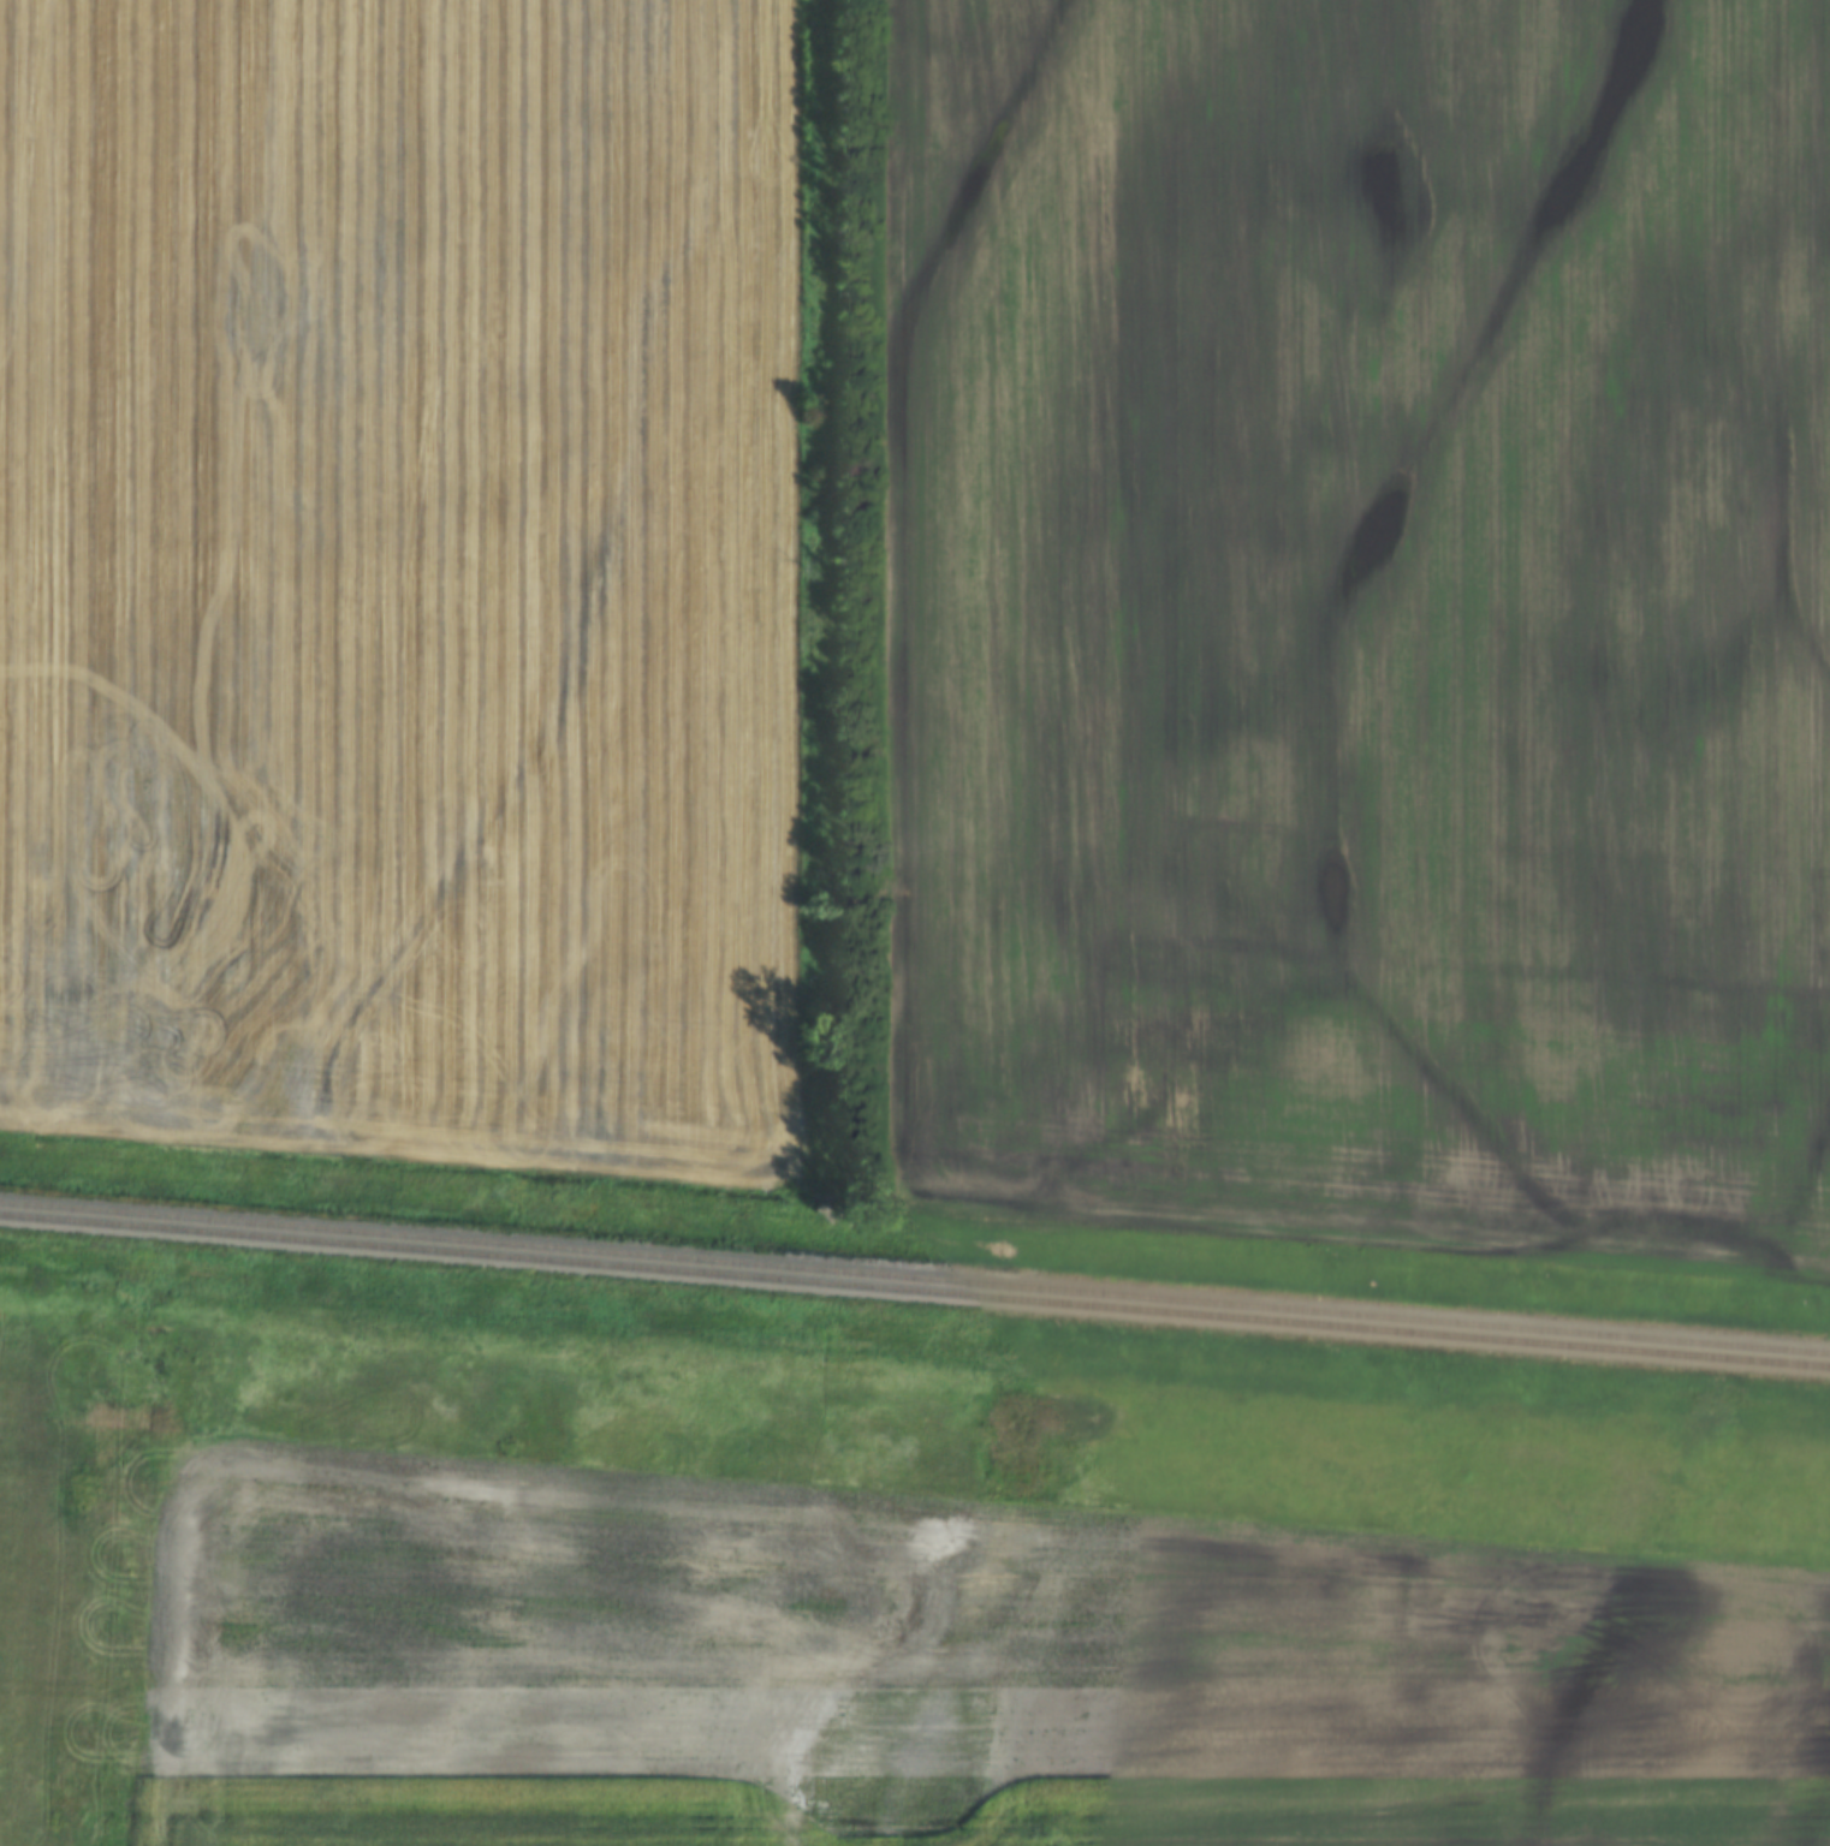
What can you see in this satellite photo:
railway: (915, 1275)
railway: (915, 1287)

